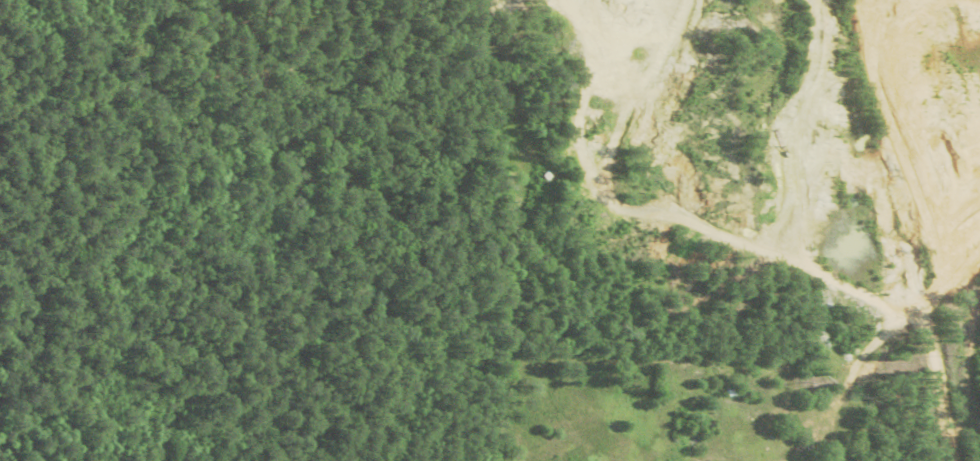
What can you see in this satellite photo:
road: (903, 316)

